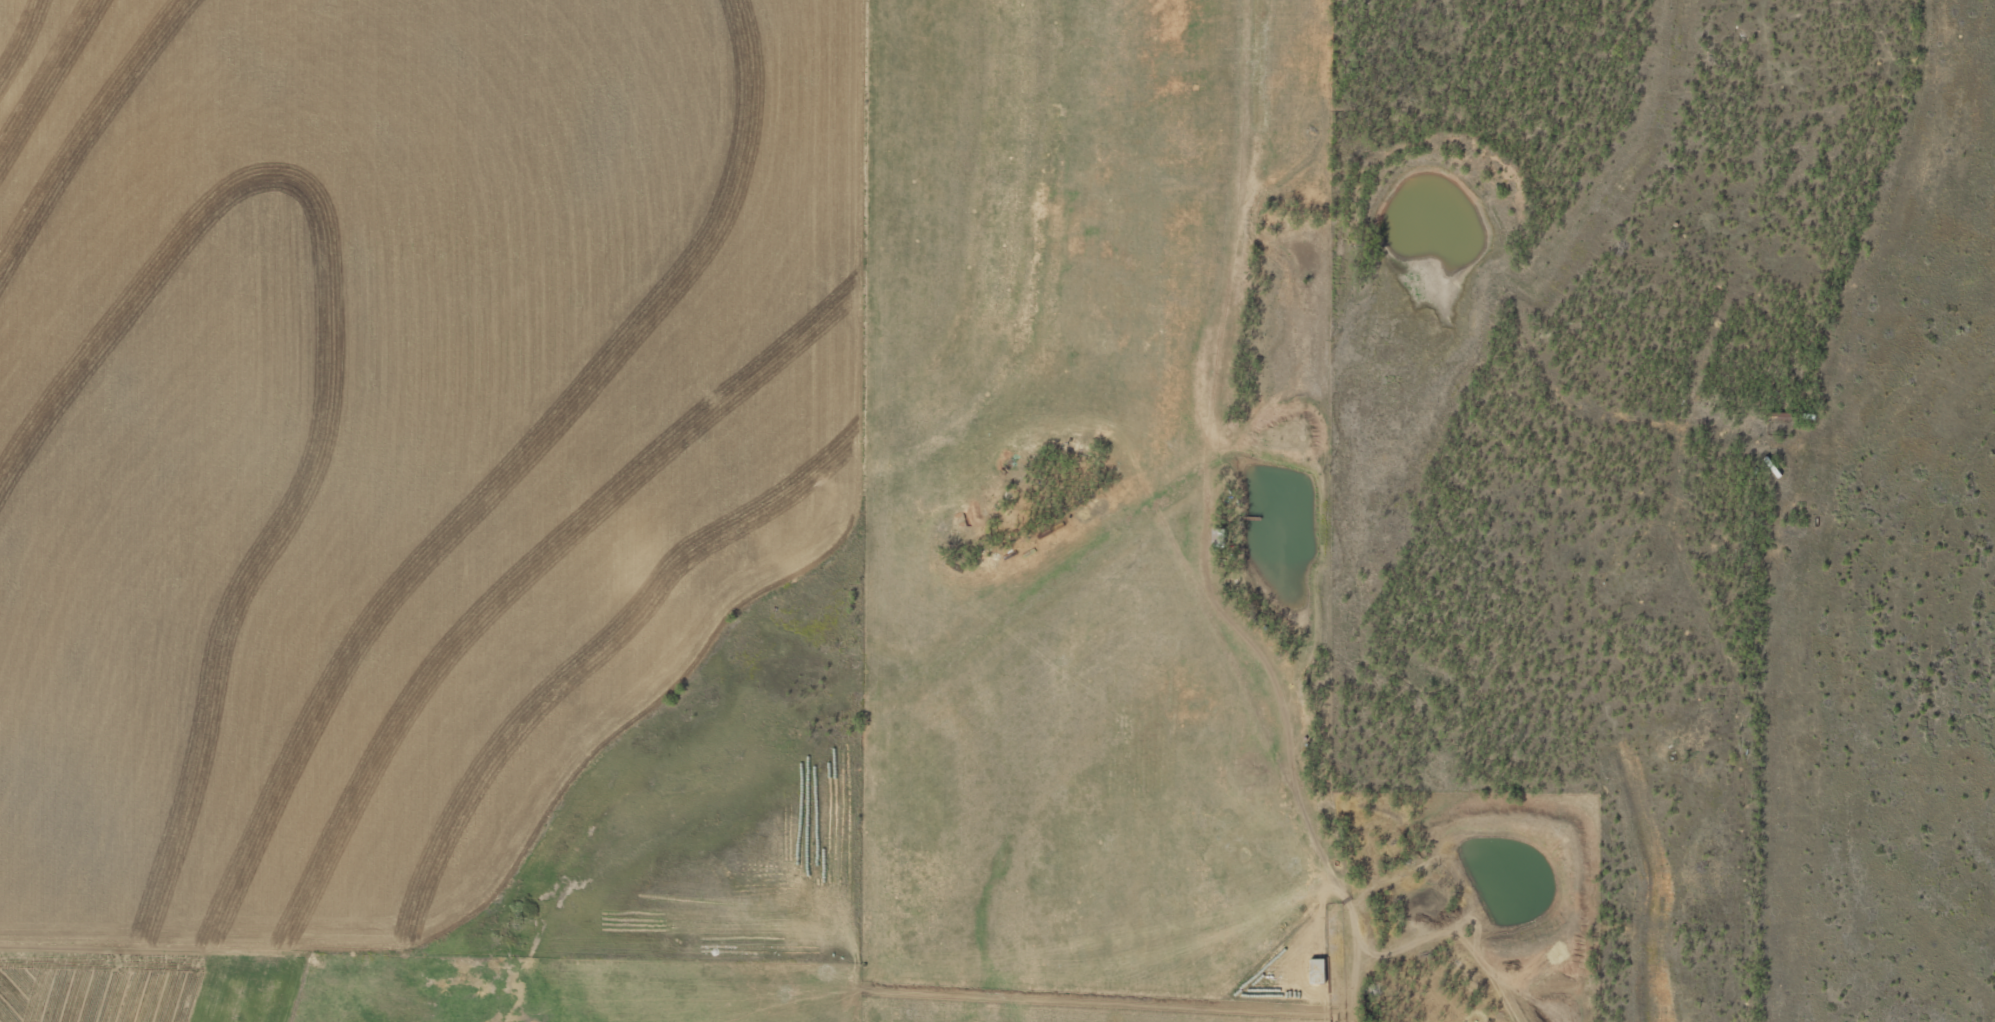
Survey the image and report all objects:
road: (1847, 265)

